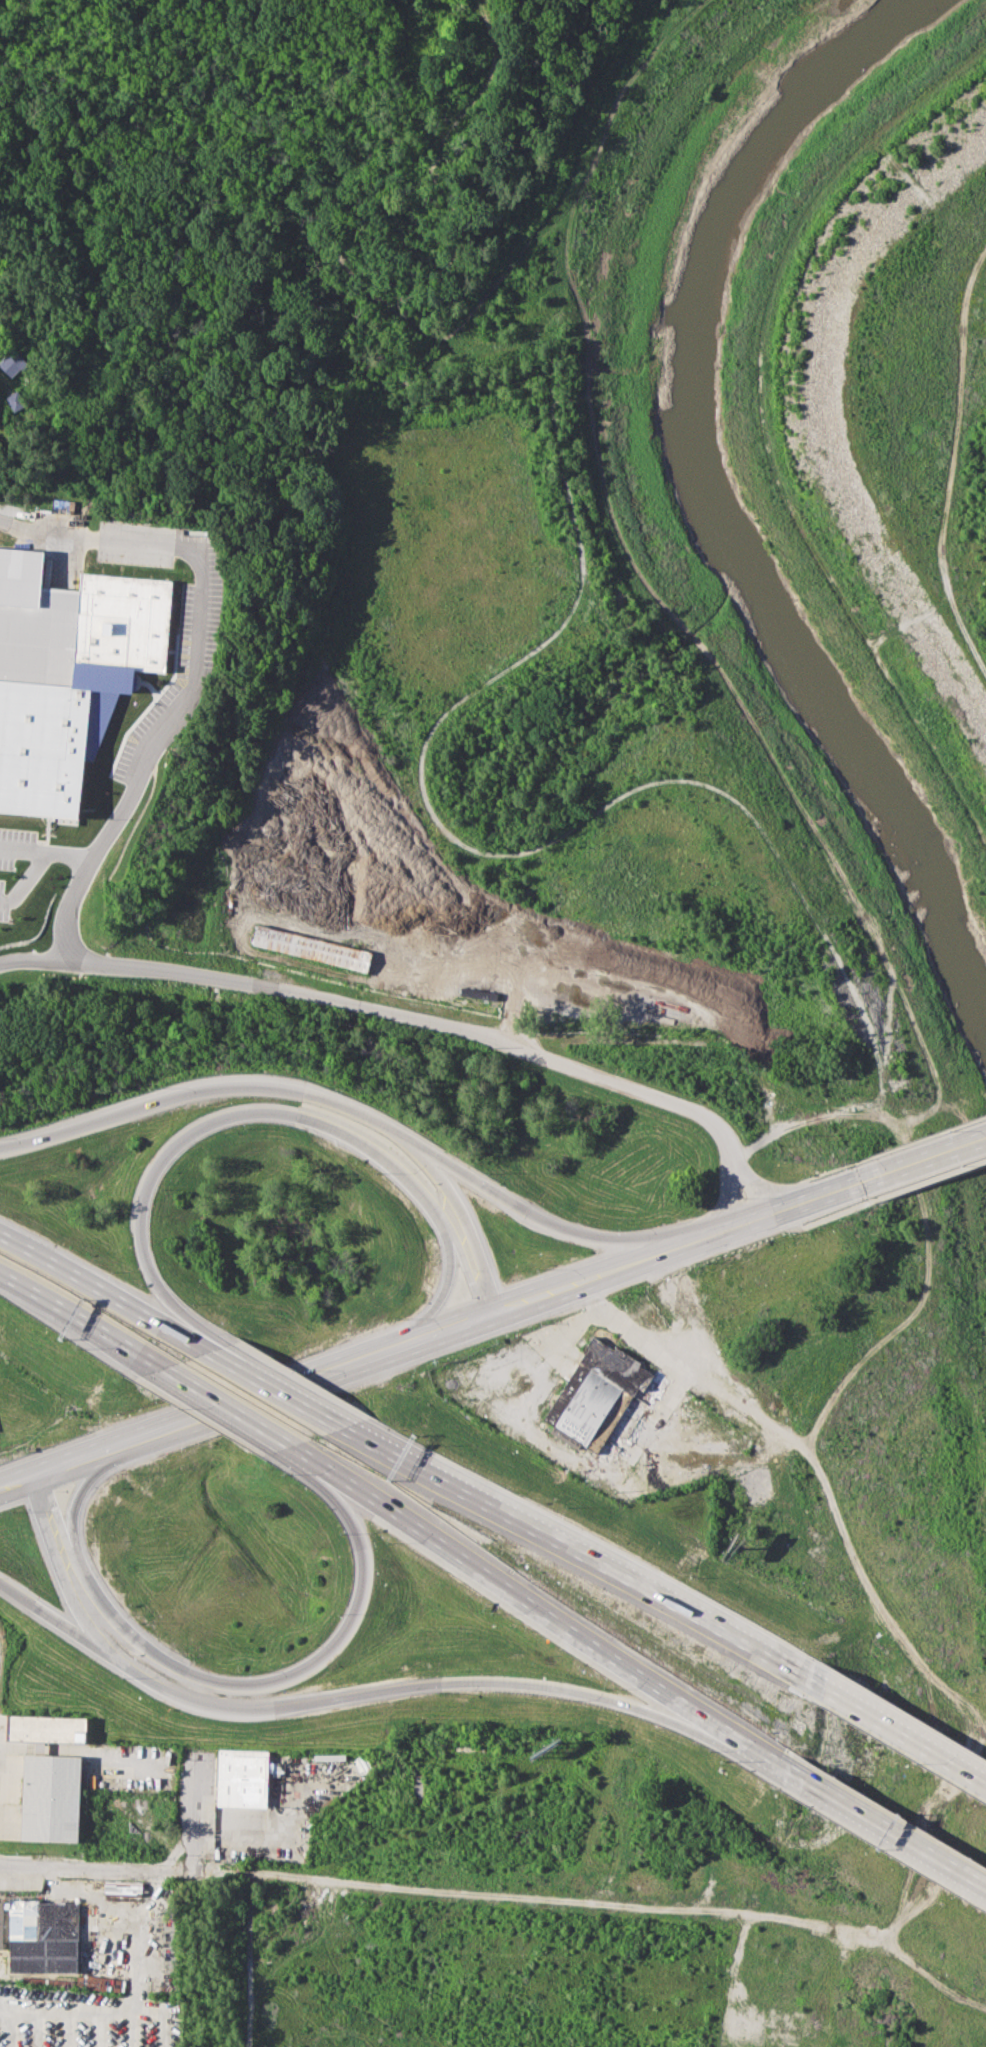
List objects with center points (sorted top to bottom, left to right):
road: (490, 10)
road: (500, 73)
park: (376, 227)
building: (13, 361)
building: (16, 400)
road: (762, 426)
road: (950, 456)
river: (714, 489)
building: (63, 506)
building: (79, 624)
road: (47, 848)
road: (23, 876)
building: (313, 948)
road: (41, 956)
road: (135, 968)
road: (338, 1103)
road: (230, 1114)
road: (932, 1158)
road: (762, 1217)
road: (467, 1227)
road: (468, 1277)
road: (86, 1283)
road: (570, 1288)
road: (442, 1293)
road: (83, 1318)
road: (453, 1329)
road: (191, 1345)
road: (274, 1392)
road: (269, 1394)
building: (599, 1395)
road: (226, 1401)
road: (309, 1452)
road: (62, 1466)
road: (83, 1486)
road: (55, 1508)
road: (579, 1555)
road: (42, 1605)
road: (556, 1614)
road: (270, 1679)
road: (332, 1696)
building: (38, 1728)
road: (903, 1731)
road: (156, 1754)
building: (242, 1778)
building: (51, 1797)
road: (883, 1825)
road: (265, 1827)
road: (369, 1880)
building: (123, 1890)
building: (1, 1923)
building: (43, 1936)
road: (135, 1976)

